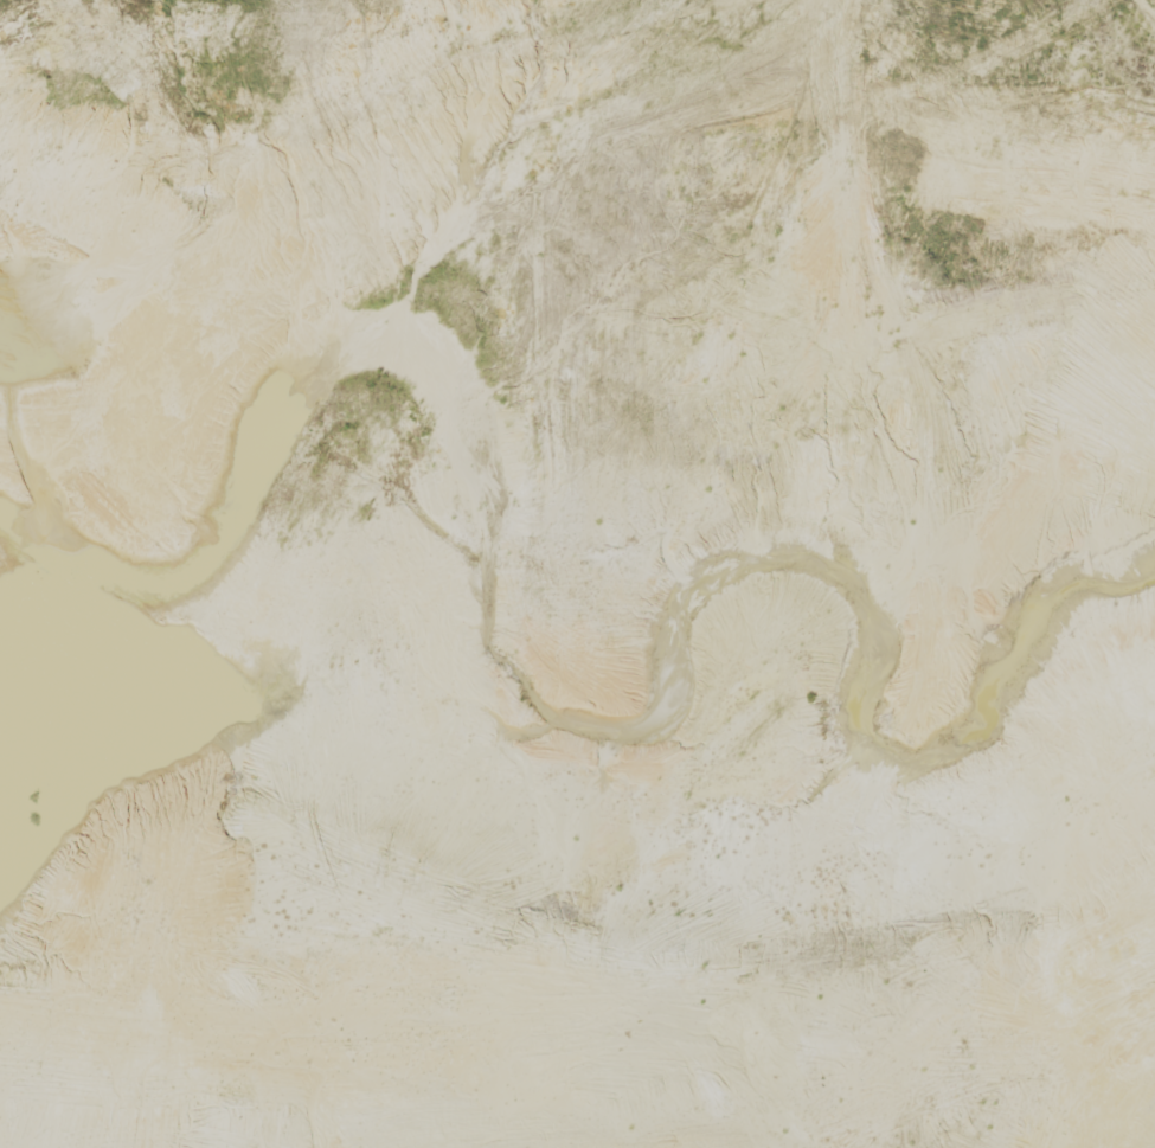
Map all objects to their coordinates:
quarry: (578, 572)

